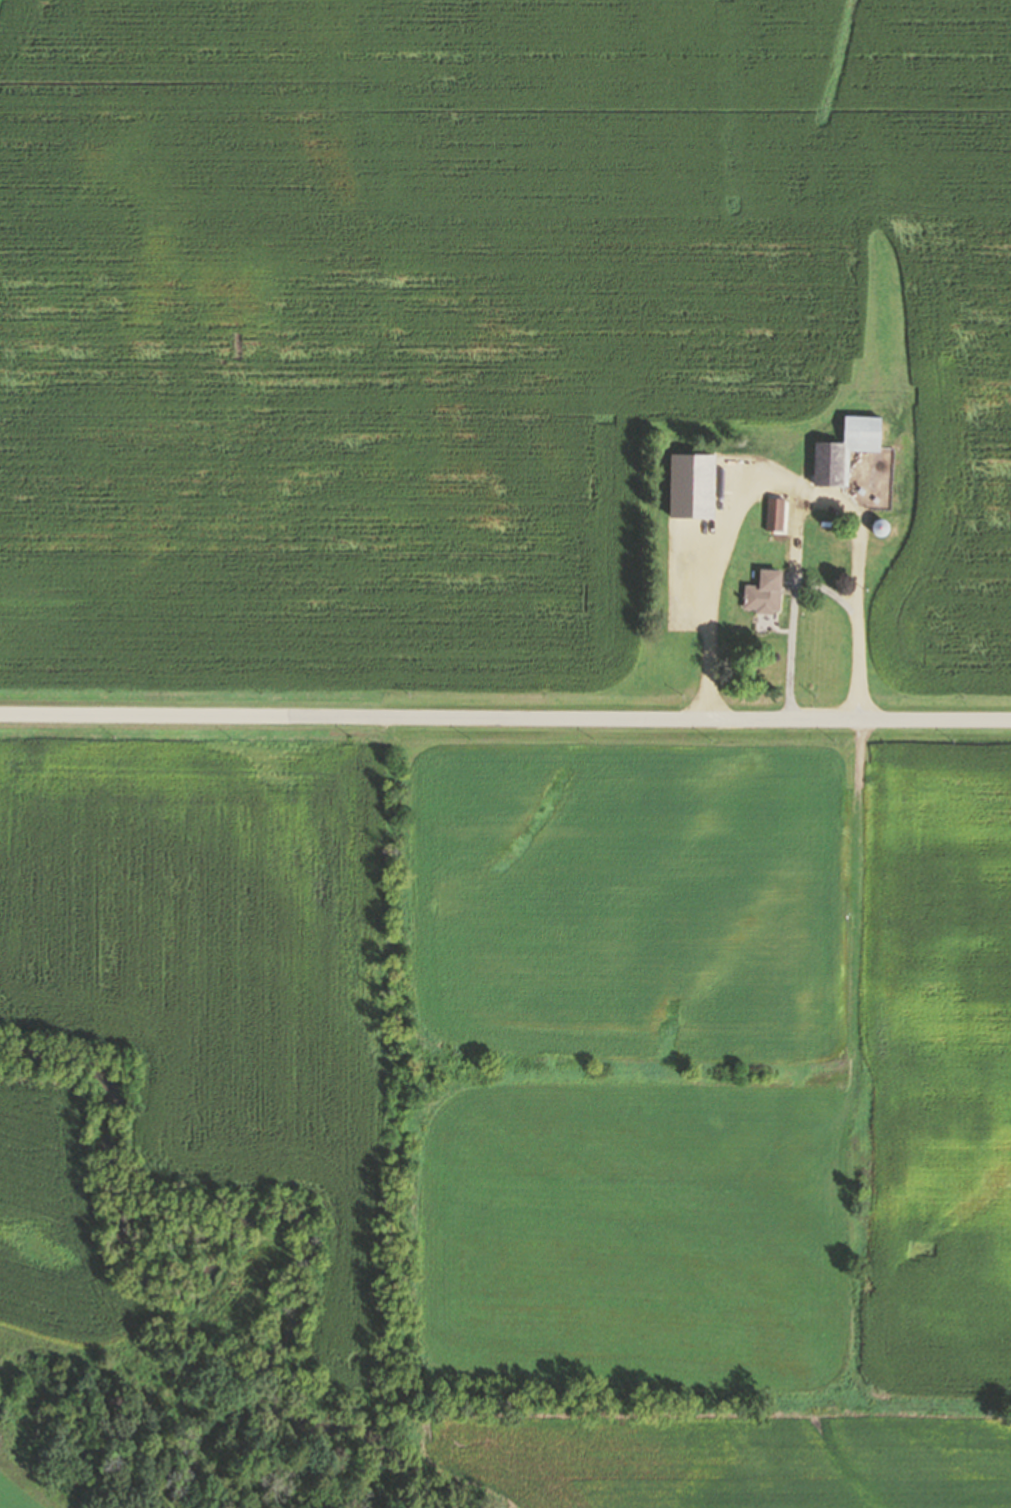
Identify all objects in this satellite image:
building: (782, 447)
building: (848, 449)
building: (682, 466)
building: (765, 481)
road: (840, 505)
building: (776, 514)
building: (884, 528)
road: (814, 582)
building: (765, 592)
road: (505, 716)

